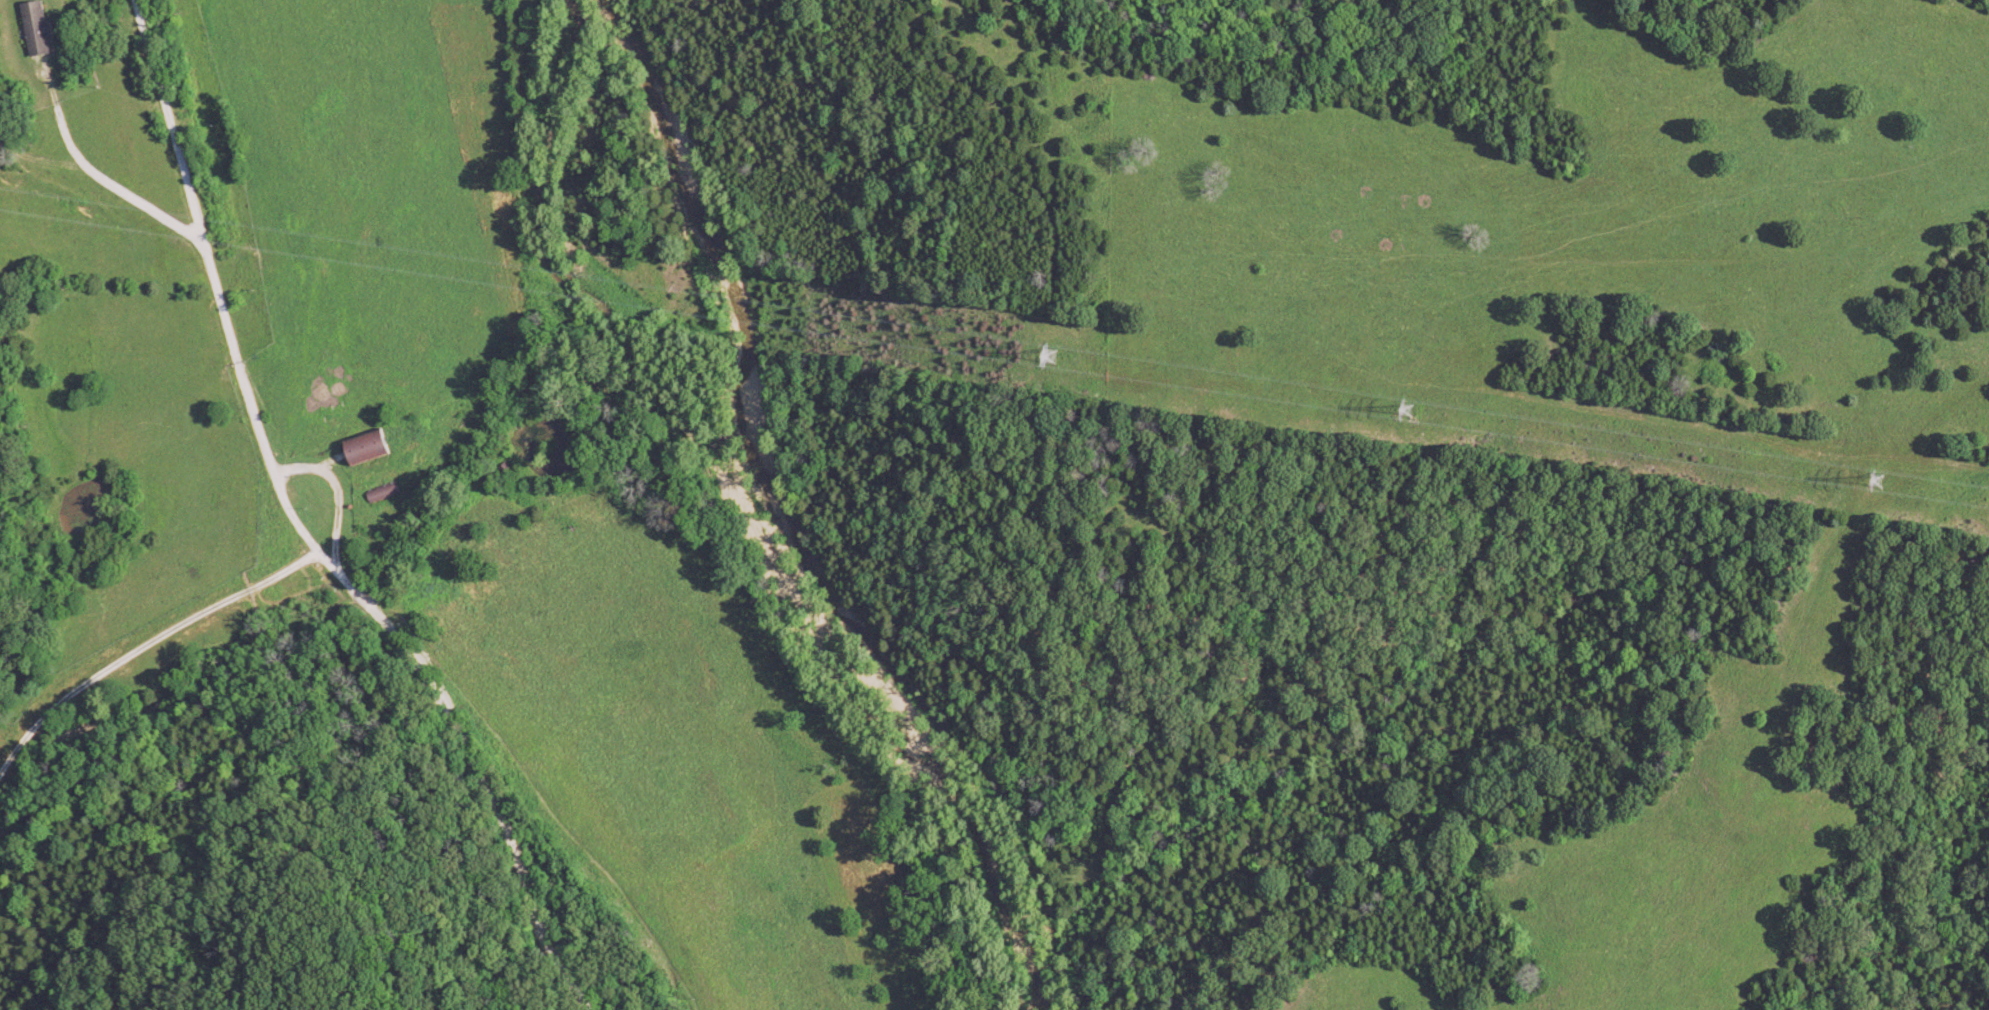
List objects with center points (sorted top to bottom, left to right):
road: (100, 179)
river: (738, 512)
road: (312, 540)
road: (143, 647)

